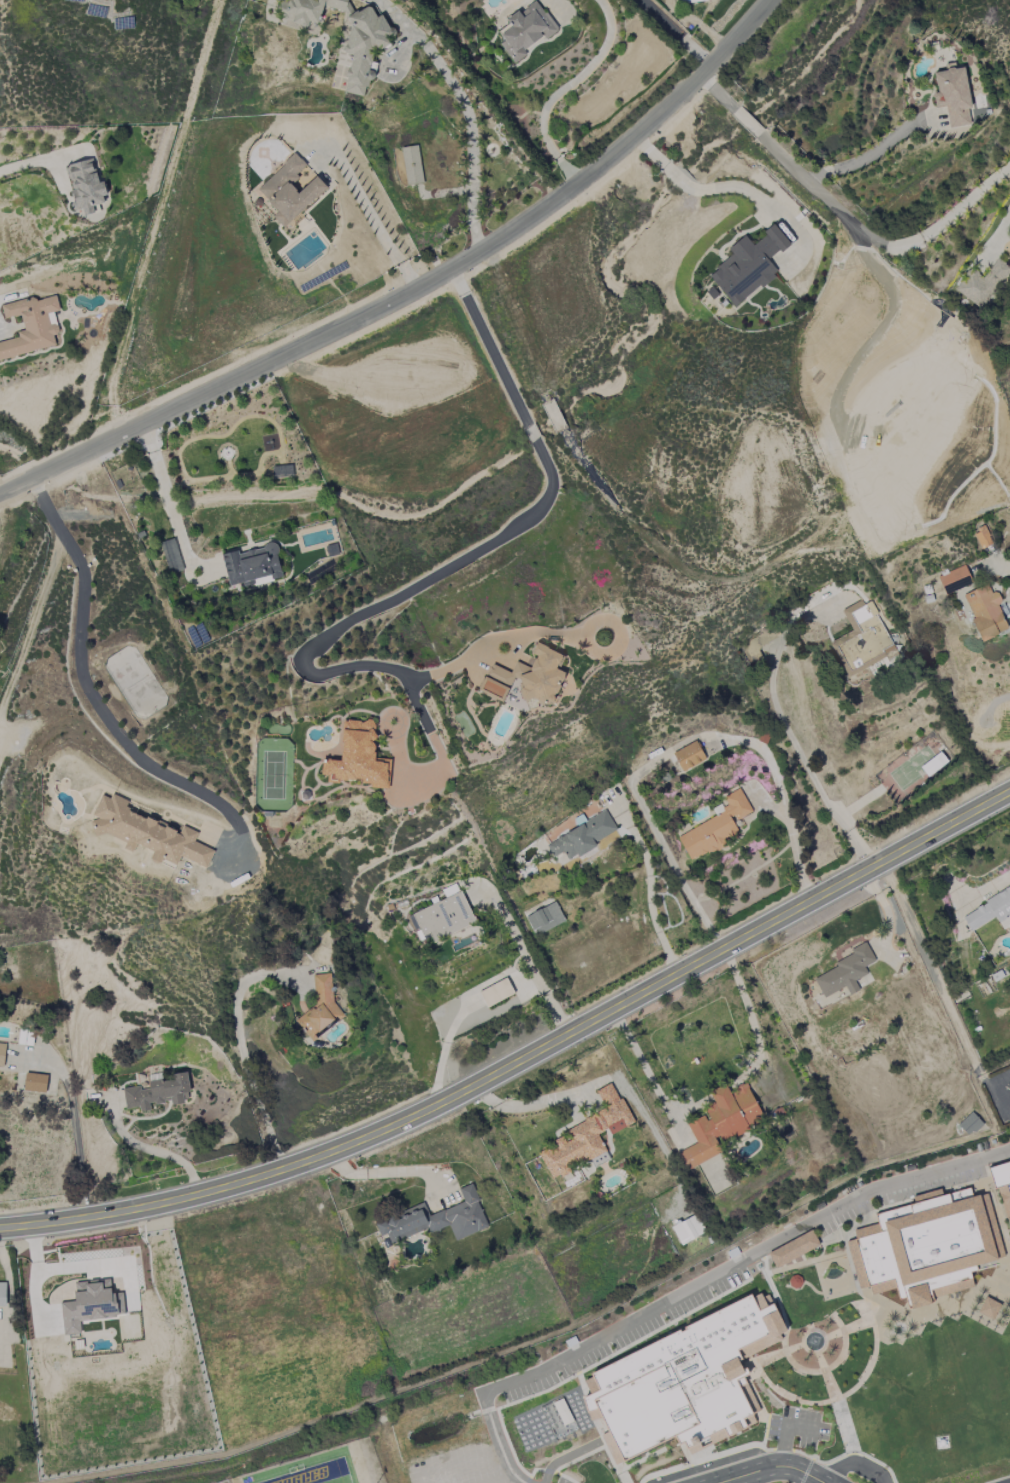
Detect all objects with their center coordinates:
building: (691, 1)
building: (526, 31)
road: (677, 32)
building: (369, 38)
road: (567, 90)
road: (717, 92)
building: (953, 95)
road: (467, 112)
road: (746, 122)
road: (873, 153)
road: (23, 165)
building: (412, 165)
building: (85, 186)
road: (713, 188)
building: (289, 190)
road: (369, 211)
road: (876, 241)
building: (748, 266)
building: (983, 283)
road: (414, 289)
building: (31, 326)
road: (166, 492)
building: (982, 537)
building: (171, 556)
road: (459, 563)
building: (252, 566)
road: (1009, 567)
building: (954, 580)
building: (985, 612)
building: (863, 639)
road: (438, 671)
road: (84, 677)
building: (527, 678)
building: (356, 756)
building: (689, 756)
building: (933, 765)
building: (716, 827)
building: (147, 833)
building: (582, 837)
road: (793, 843)
road: (650, 893)
building: (990, 911)
building: (445, 915)
building: (544, 918)
road: (528, 961)
road: (932, 971)
building: (845, 972)
building: (496, 992)
building: (319, 1006)
building: (2, 1054)
road: (247, 1059)
road: (525, 1066)
building: (35, 1082)
building: (158, 1092)
building: (721, 1122)
building: (970, 1124)
road: (75, 1127)
building: (587, 1136)
road: (151, 1149)
road: (394, 1174)
building: (1002, 1186)
road: (956, 1189)
road: (894, 1206)
road: (826, 1215)
building: (437, 1219)
road: (863, 1227)
building: (688, 1229)
building: (927, 1247)
building: (793, 1250)
road: (809, 1262)
road: (36, 1272)
building: (744, 1275)
building: (795, 1282)
road: (784, 1286)
road: (796, 1290)
road: (814, 1291)
building: (3, 1294)
building: (90, 1304)
building: (989, 1309)
building: (769, 1317)
building: (736, 1326)
building: (828, 1338)
building: (657, 1355)
building: (624, 1371)
building: (697, 1373)
road: (528, 1376)
building: (792, 1384)
building: (554, 1401)
building: (724, 1407)
building: (644, 1410)
building: (569, 1432)
road: (785, 1433)
building: (580, 1456)
road: (773, 1468)
park: (313, 1470)
building: (589, 1473)

